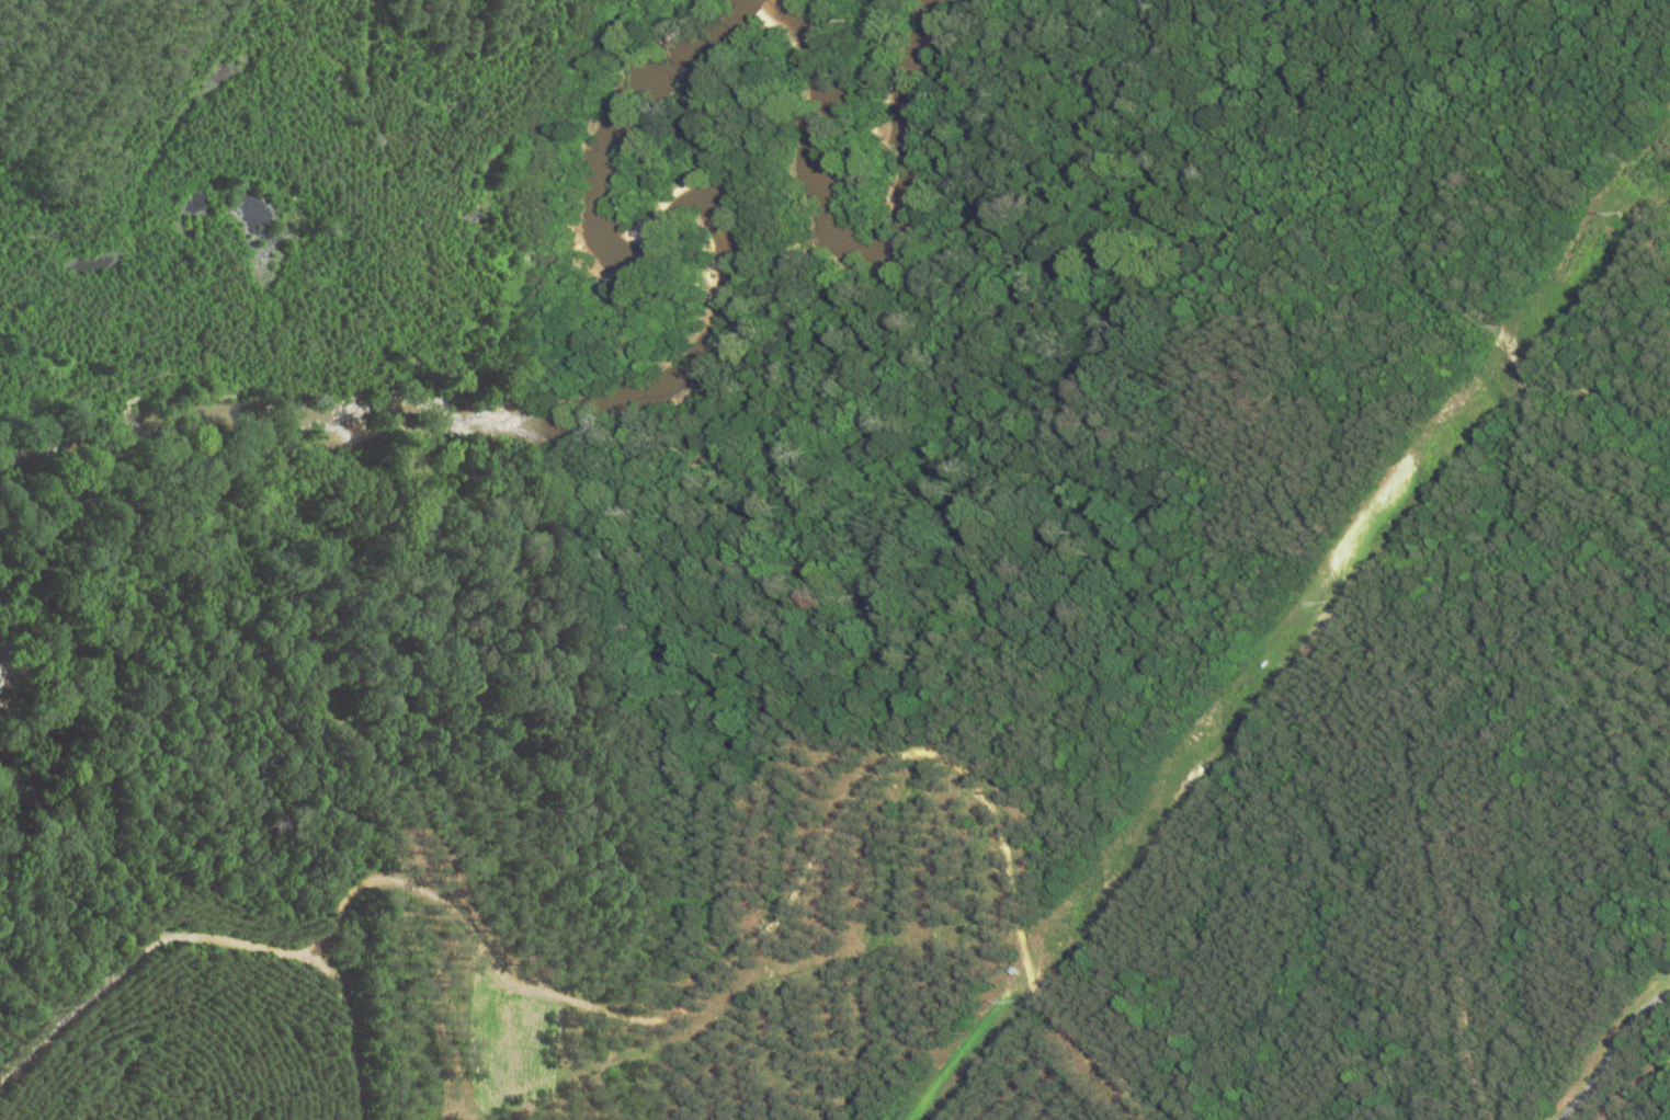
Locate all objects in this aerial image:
river: (865, 252)
river: (656, 376)

